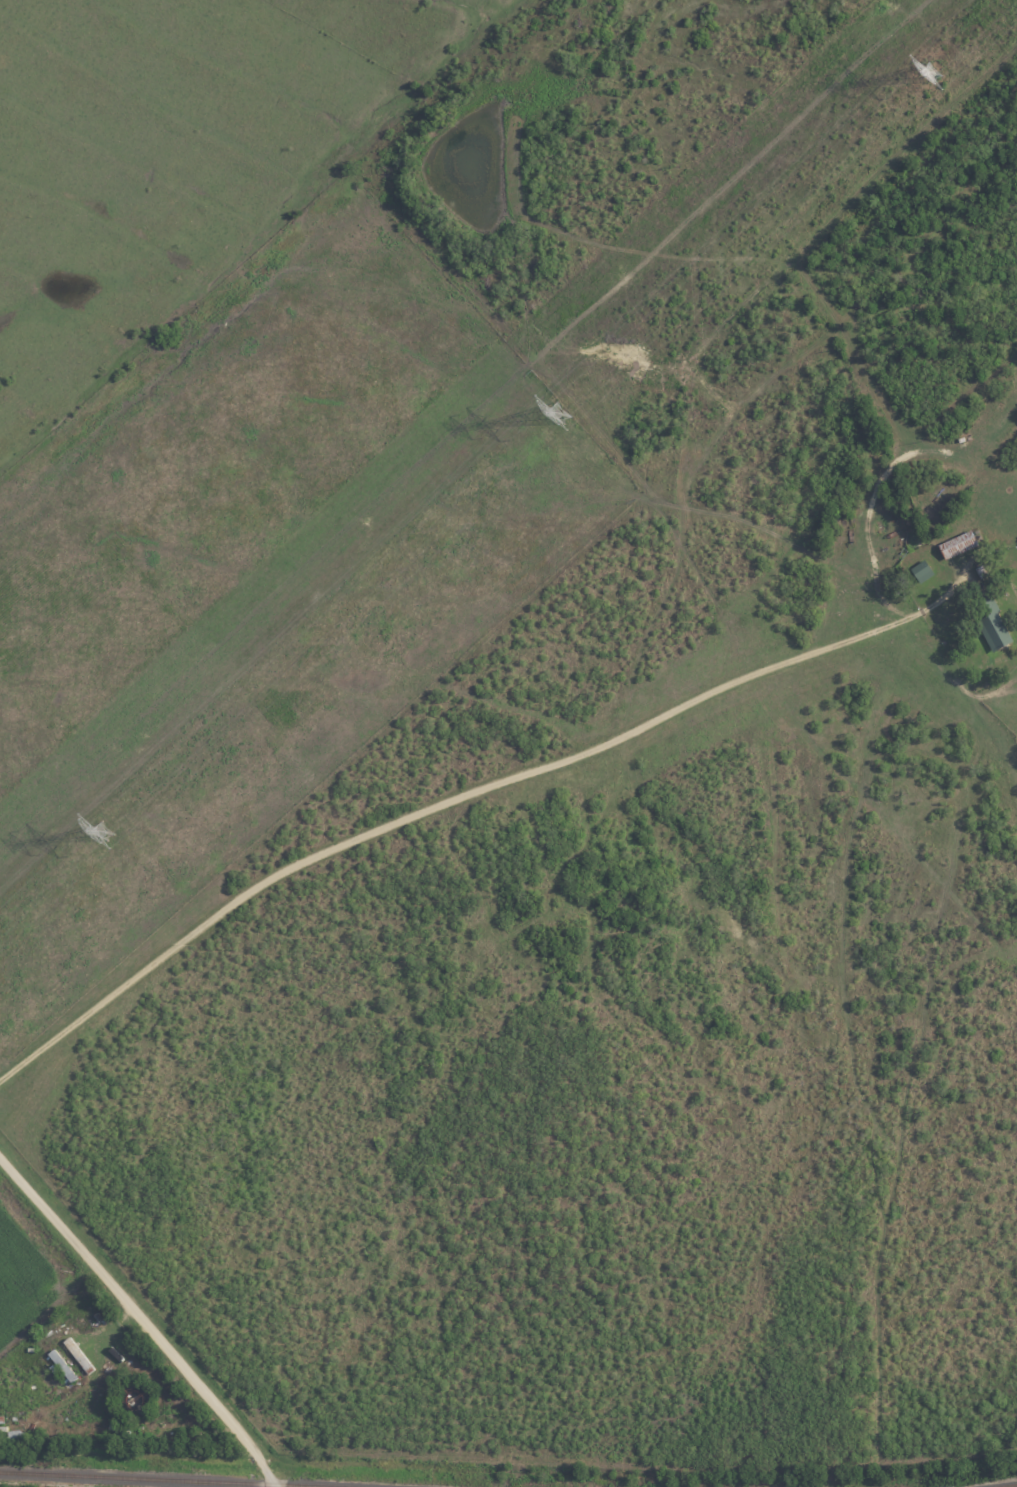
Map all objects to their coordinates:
power tower: (930, 72)
power tower: (553, 413)
building: (957, 544)
building: (993, 630)
road: (437, 803)
power tower: (101, 833)
road: (142, 1319)
railway: (168, 1479)
railway: (1008, 1485)

